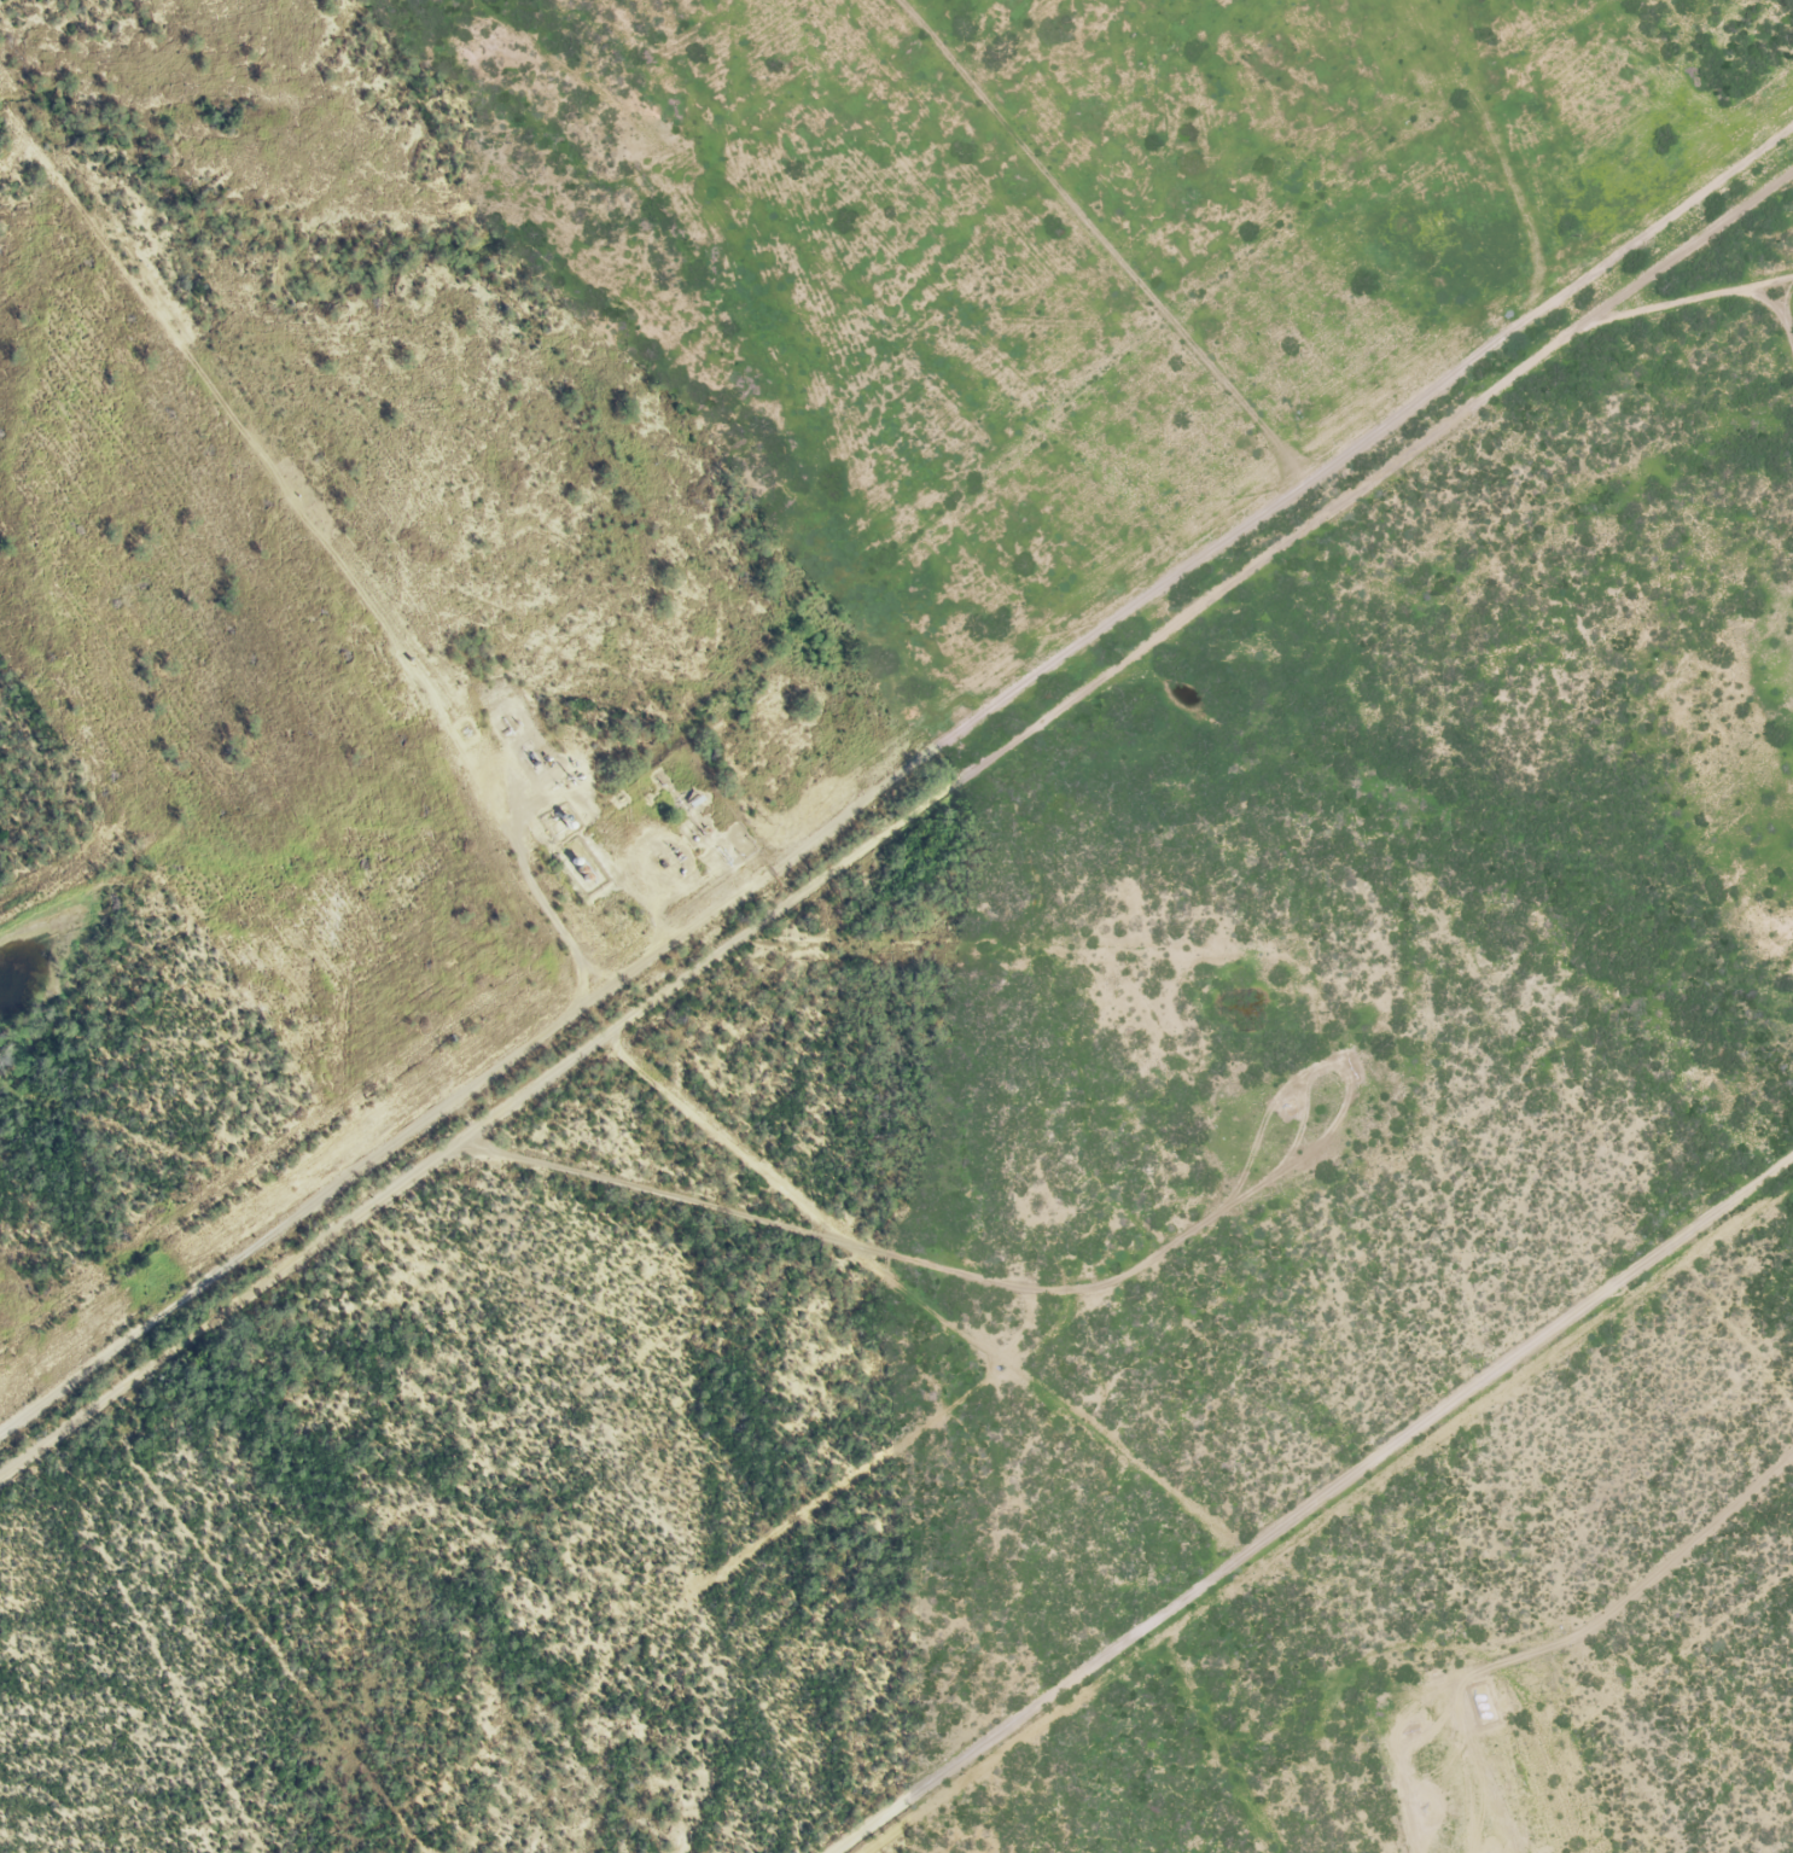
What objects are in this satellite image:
road: (901, 756)
road: (884, 875)

